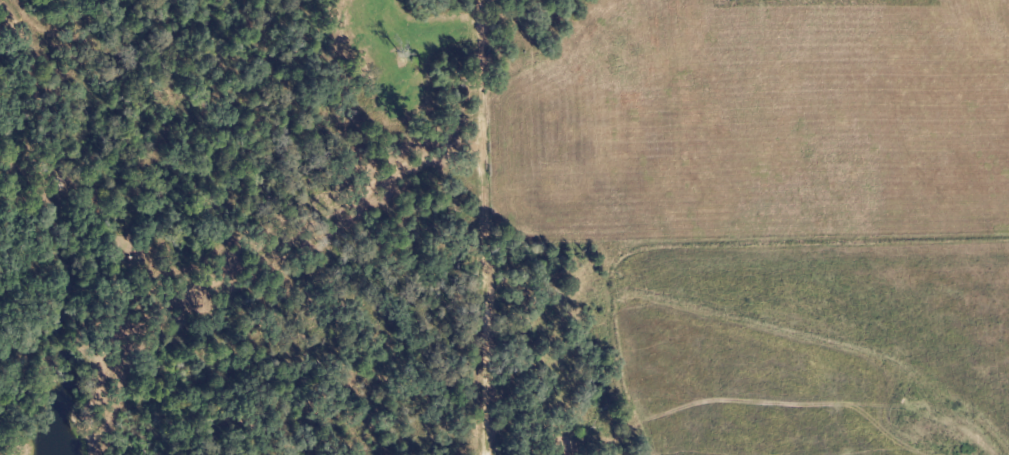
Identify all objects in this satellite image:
road: (973, 410)

